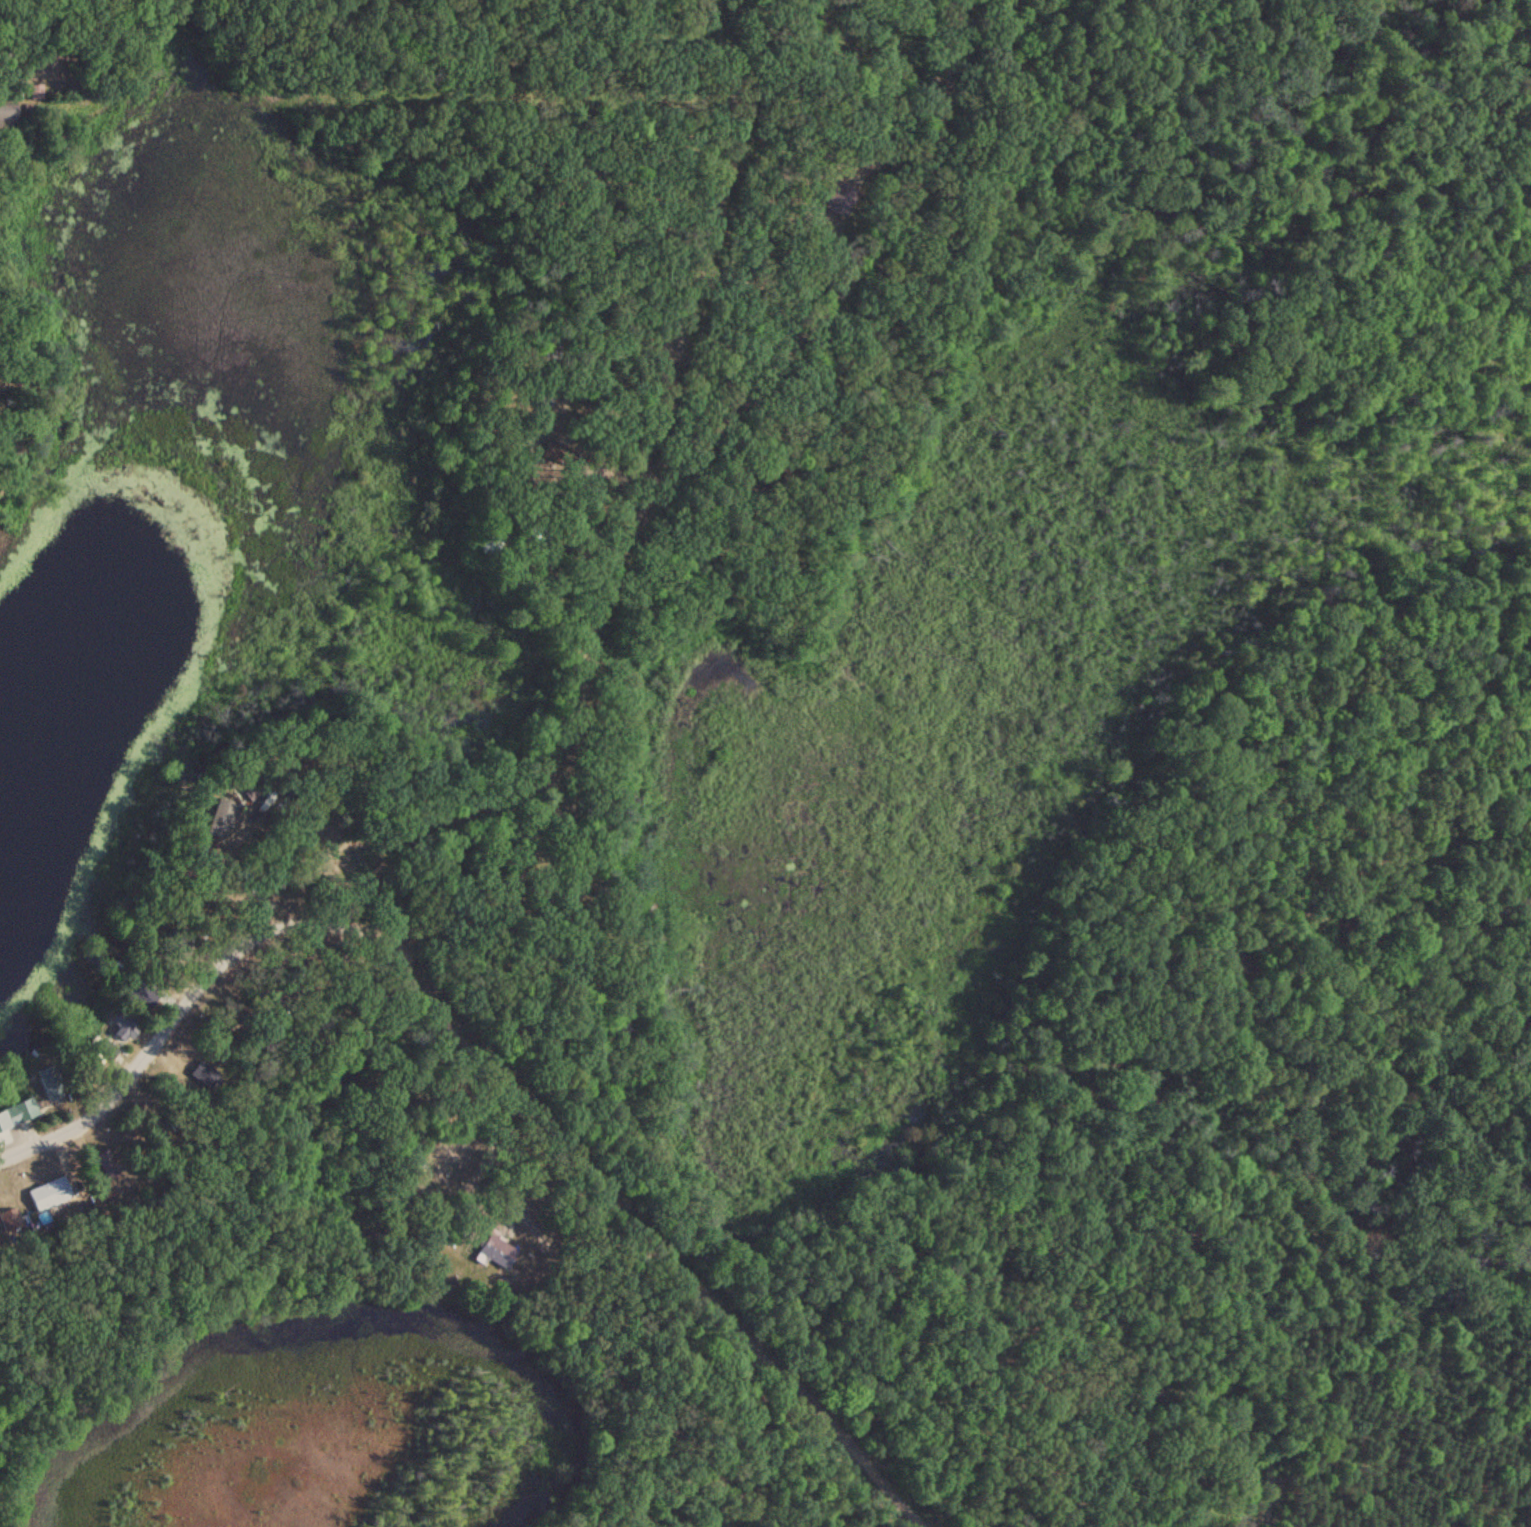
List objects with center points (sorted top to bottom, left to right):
road: (13, 12)
road: (655, 467)
road: (176, 975)
road: (654, 1223)
building: (496, 1251)

